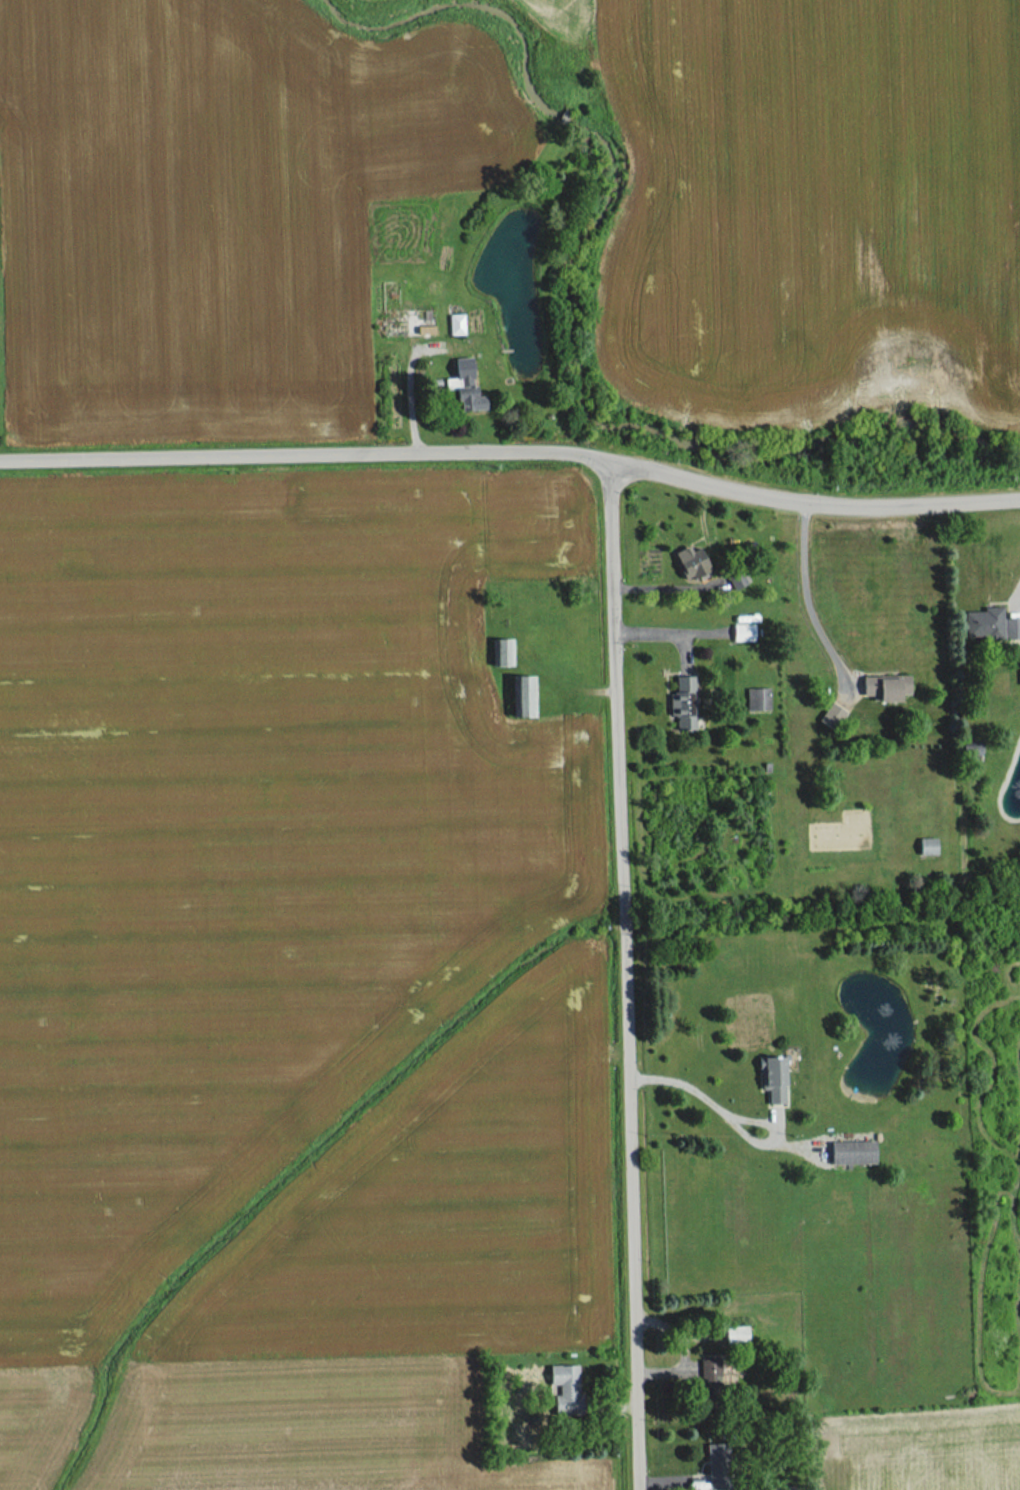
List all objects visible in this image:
crop: (360, 0)
crop: (561, 18)
crop: (817, 202)
crop: (213, 208)
building: (454, 324)
building: (465, 385)
road: (412, 394)
road: (304, 455)
road: (812, 502)
building: (692, 562)
road: (811, 597)
building: (998, 623)
building: (743, 632)
road: (710, 633)
road: (661, 634)
building: (501, 652)
building: (1019, 658)
building: (887, 688)
building: (523, 696)
building: (757, 699)
building: (682, 703)
building: (831, 716)
crop: (249, 837)
building: (927, 846)
road: (625, 976)
building: (772, 1080)
road: (700, 1088)
building: (852, 1152)
crop: (434, 1206)
building: (736, 1335)
building: (709, 1373)
building: (564, 1387)
crop: (28, 1416)
crop: (312, 1429)
crop: (922, 1450)
building: (716, 1467)
building: (784, 1488)

